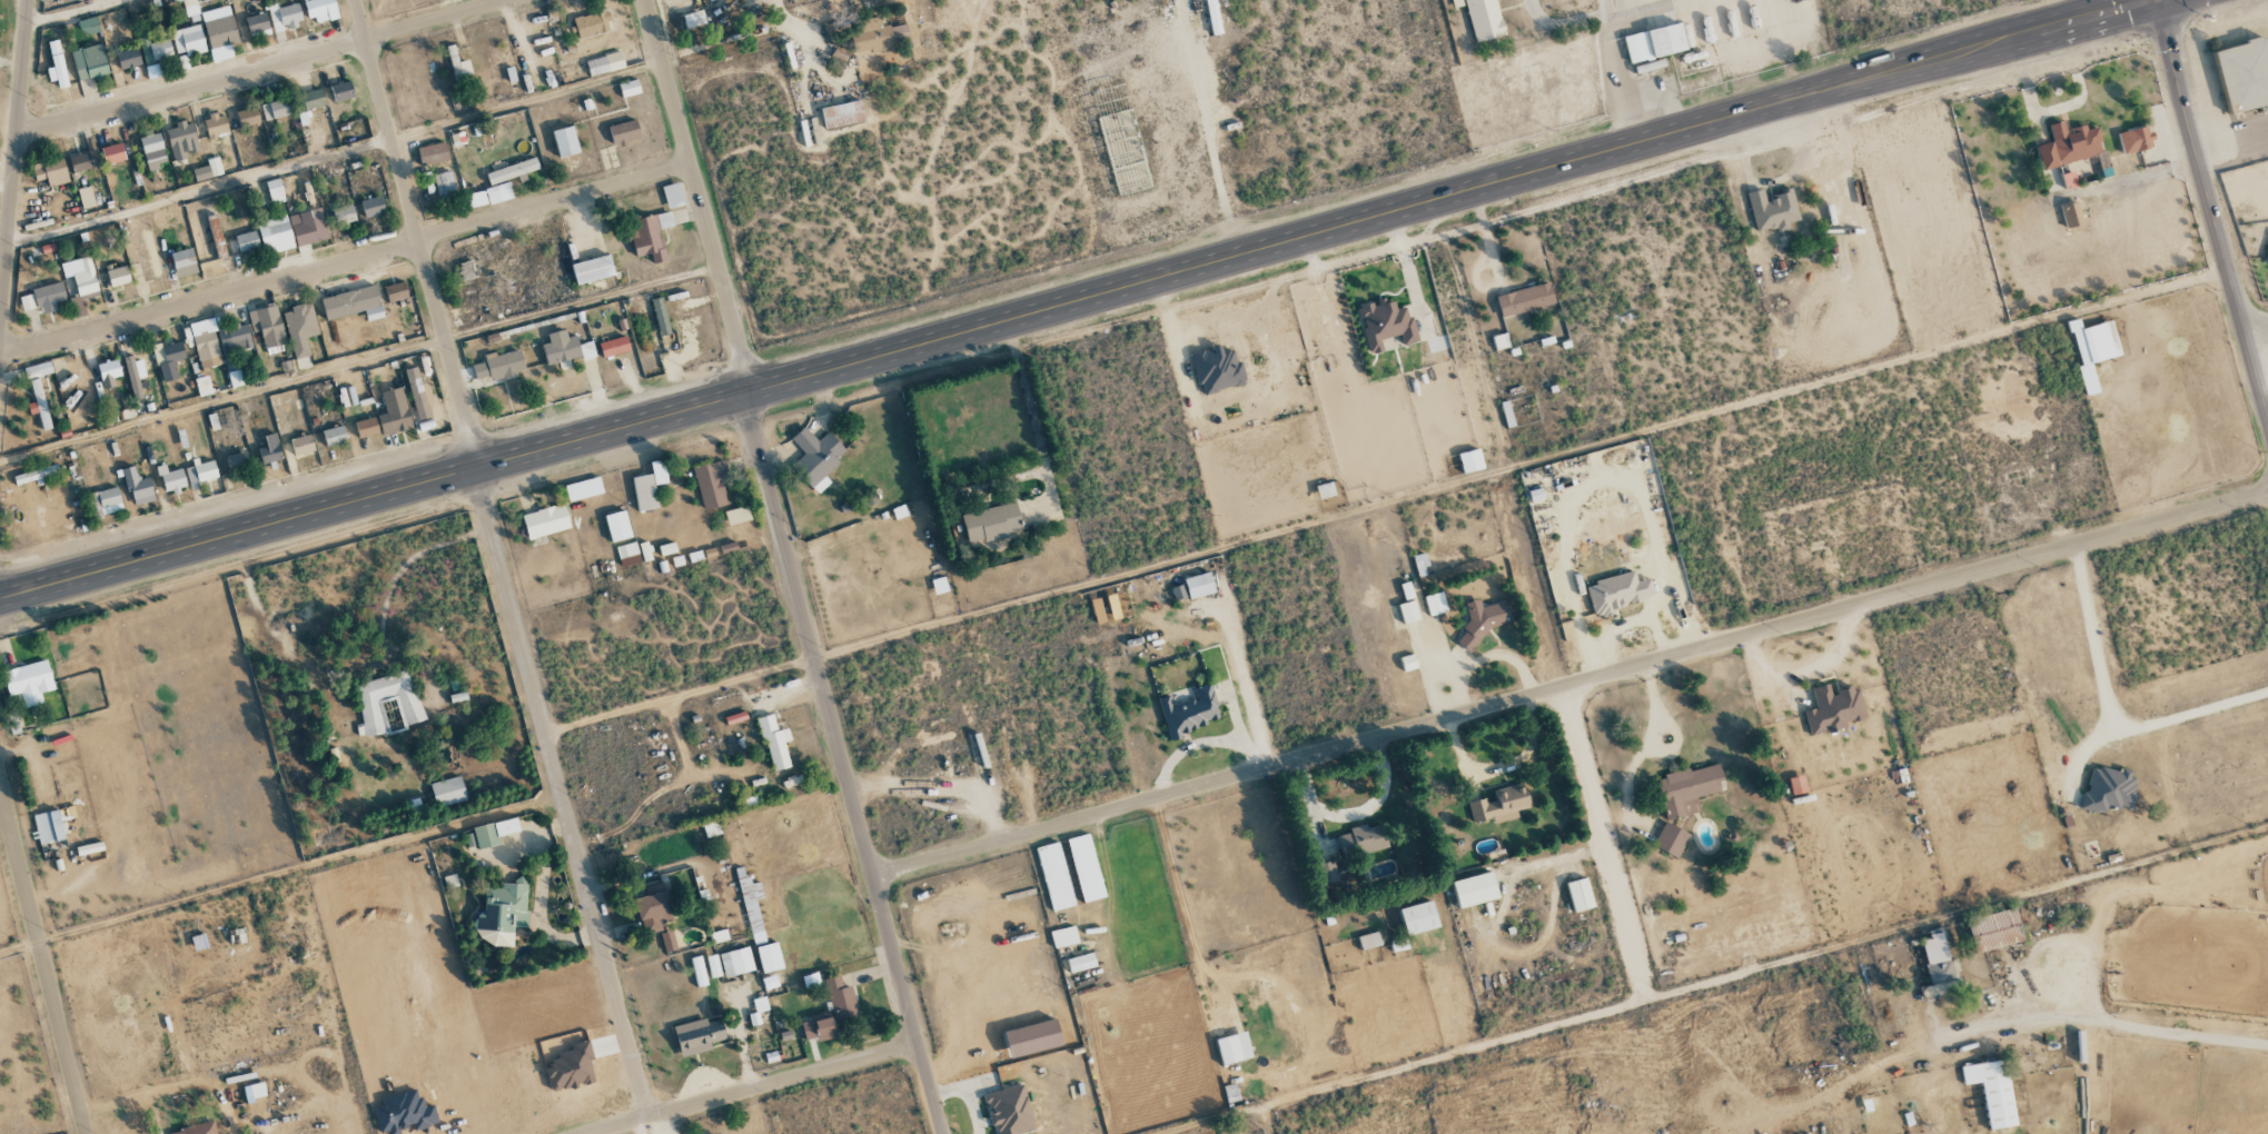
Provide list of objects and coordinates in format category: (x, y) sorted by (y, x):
traffic signals: (2159, 2)
building: (320, 8)
building: (190, 10)
building: (285, 16)
building: (1482, 18)
building: (693, 19)
building: (592, 23)
building: (88, 26)
building: (257, 26)
building: (877, 36)
building: (220, 37)
building: (187, 40)
building: (1654, 42)
building: (155, 49)
building: (128, 58)
building: (89, 62)
building: (604, 63)
building: (56, 64)
building: (1648, 64)
building: (458, 66)
road: (259, 68)
building: (2242, 72)
road: (1611, 74)
building: (628, 88)
building: (341, 91)
building: (311, 99)
building: (275, 109)
building: (842, 115)
building: (247, 117)
building: (303, 118)
building: (215, 125)
road: (1207, 128)
building: (623, 132)
building: (2136, 139)
building: (181, 140)
building: (565, 141)
building: (2069, 145)
road: (13, 148)
building: (152, 150)
building: (112, 153)
building: (432, 153)
building: (86, 158)
building: (208, 170)
building: (512, 171)
building: (50, 172)
building: (2068, 179)
building: (2051, 180)
building: (444, 186)
building: (275, 191)
building: (673, 195)
building: (487, 196)
building: (86, 197)
building: (372, 207)
building: (1772, 210)
road: (2210, 211)
building: (2070, 213)
building: (344, 215)
building: (308, 227)
building: (275, 235)
building: (648, 236)
building: (216, 237)
building: (246, 241)
building: (150, 253)
building: (2267, 259)
road: (344, 261)
building: (184, 262)
building: (592, 269)
building: (465, 270)
building: (117, 276)
building: (81, 277)
building: (395, 291)
building: (43, 298)
road: (1083, 299)
building: (1525, 299)
building: (349, 301)
building: (660, 316)
building: (1385, 324)
building: (267, 325)
building: (300, 332)
road: (2256, 335)
building: (234, 338)
building: (205, 340)
building: (614, 347)
building: (565, 349)
building: (2092, 349)
building: (168, 359)
building: (497, 366)
building: (37, 369)
building: (1217, 369)
building: (108, 372)
building: (132, 377)
building: (235, 378)
building: (202, 386)
building: (416, 392)
building: (40, 404)
building: (394, 411)
road: (1031, 418)
building: (366, 427)
building: (334, 436)
building: (301, 445)
building: (269, 449)
building: (815, 457)
building: (1469, 460)
building: (236, 462)
building: (205, 470)
building: (32, 475)
building: (170, 479)
building: (711, 485)
building: (137, 486)
building: (648, 486)
building: (583, 488)
building: (106, 501)
building: (736, 515)
building: (545, 521)
building: (991, 521)
building: (617, 526)
building: (627, 554)
road: (501, 558)
road: (788, 568)
building: (939, 585)
building: (1199, 585)
building: (1406, 590)
building: (1178, 591)
building: (1616, 593)
road: (1542, 600)
building: (1435, 603)
building: (1113, 606)
building: (1097, 610)
building: (1408, 611)
building: (1408, 663)
building: (28, 682)
road: (1569, 684)
building: (1833, 709)
road: (2112, 709)
building: (373, 712)
building: (1190, 712)
building: (774, 743)
road: (1646, 745)
building: (2107, 788)
building: (1687, 789)
building: (447, 792)
building: (1499, 805)
building: (49, 827)
building: (493, 832)
building: (1361, 839)
building: (1670, 839)
building: (1085, 867)
building: (1329, 873)
building: (1054, 876)
building: (1475, 889)
building: (1579, 895)
building: (652, 908)
road: (737, 909)
building: (499, 915)
building: (1418, 917)
building: (1063, 937)
building: (667, 941)
building: (1368, 941)
road: (19, 947)
building: (769, 957)
road: (42, 958)
building: (736, 962)
building: (1080, 963)
building: (1937, 964)
building: (713, 966)
building: (697, 972)
road: (1715, 979)
building: (840, 999)
building: (757, 1009)
road: (2110, 1024)
building: (819, 1028)
building: (697, 1035)
building: (1234, 1048)
building: (571, 1067)
road: (753, 1088)
building: (1992, 1091)
building: (254, 1092)
building: (1009, 1111)
building: (195, 1130)

